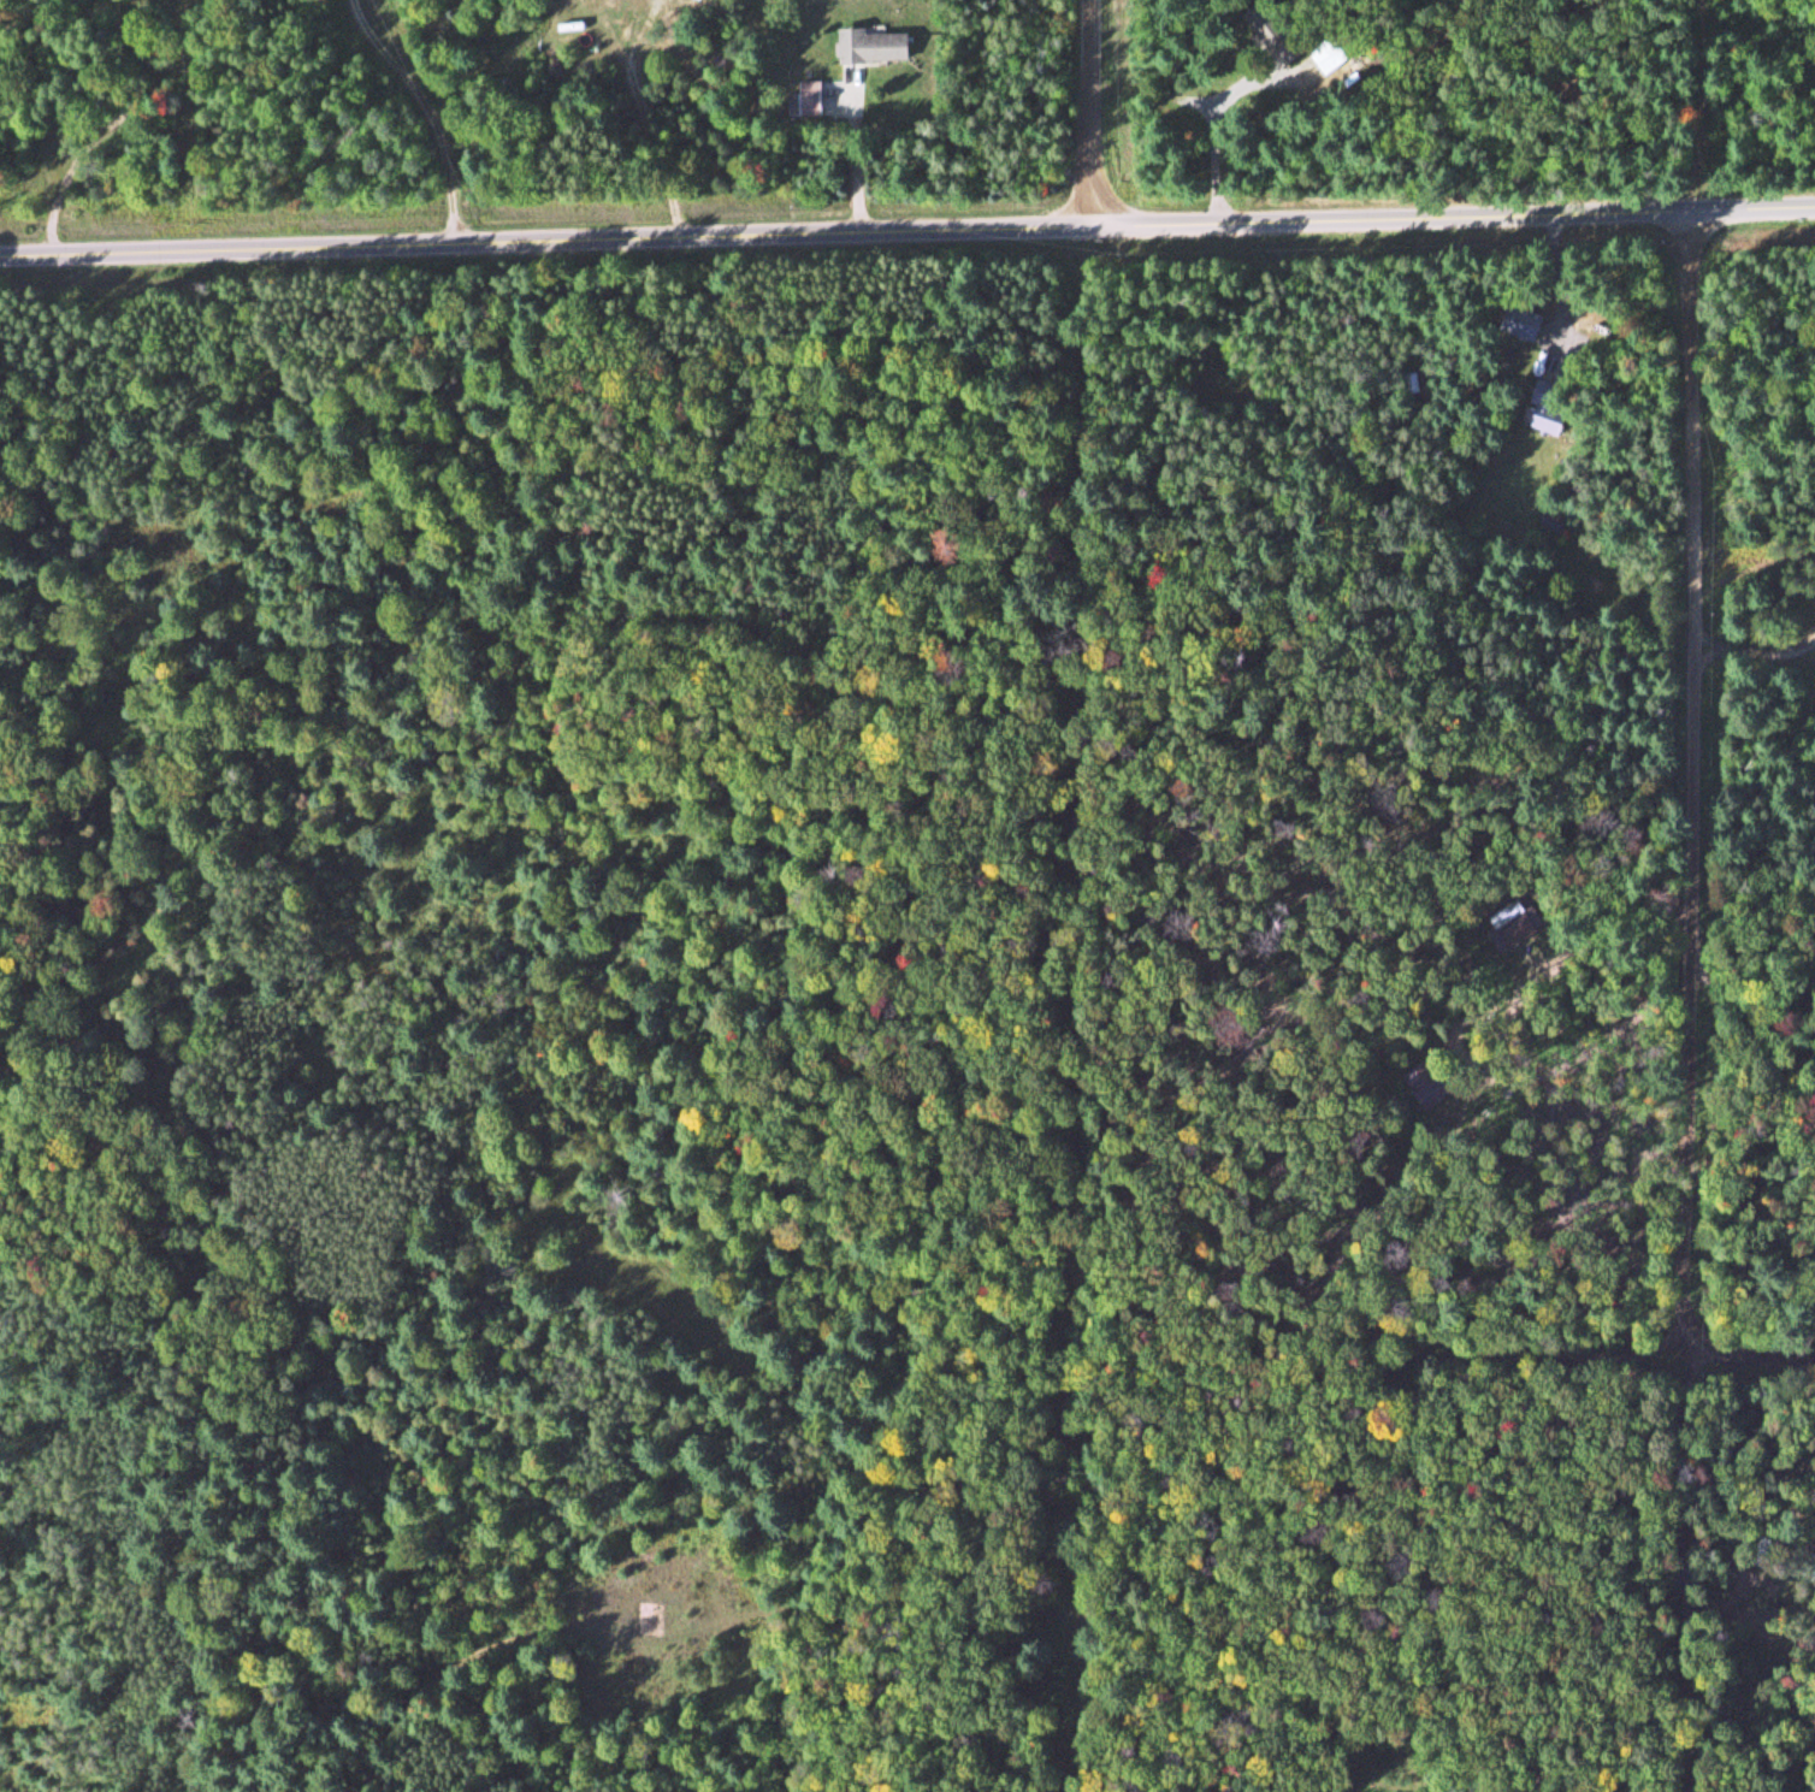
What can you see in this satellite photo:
building: (881, 47)
building: (1325, 57)
building: (817, 99)
road: (1092, 114)
road: (1453, 219)
road: (545, 244)
building: (1520, 324)
building: (1543, 420)
road: (1695, 783)
building: (1504, 934)
road: (1750, 1353)

